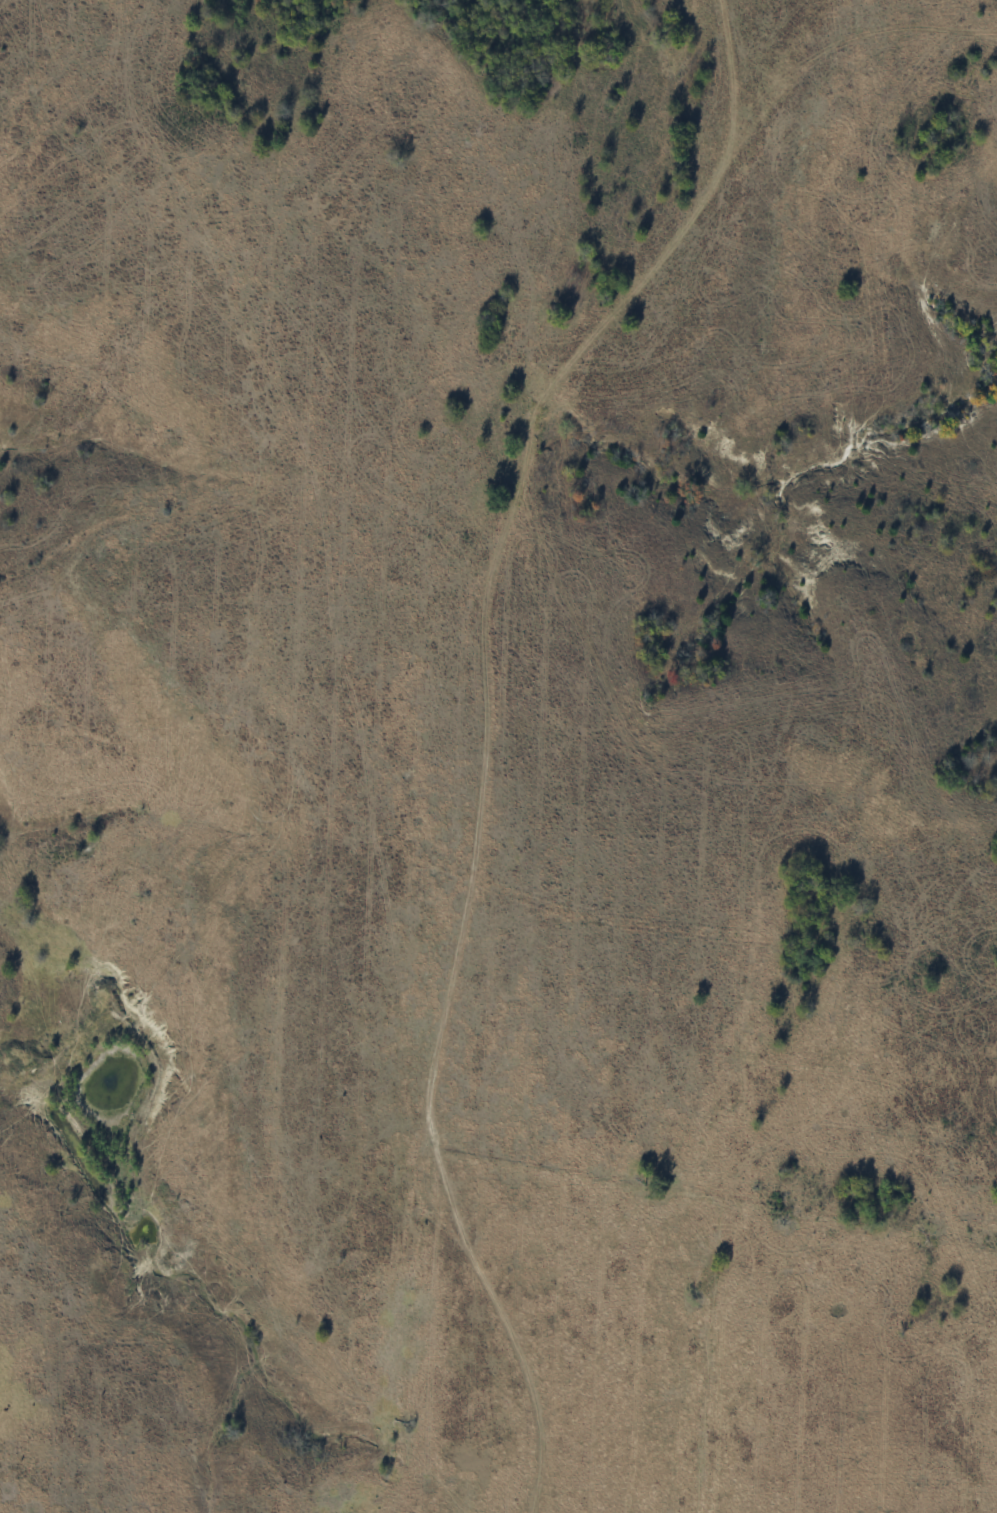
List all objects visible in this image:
road: (482, 741)

